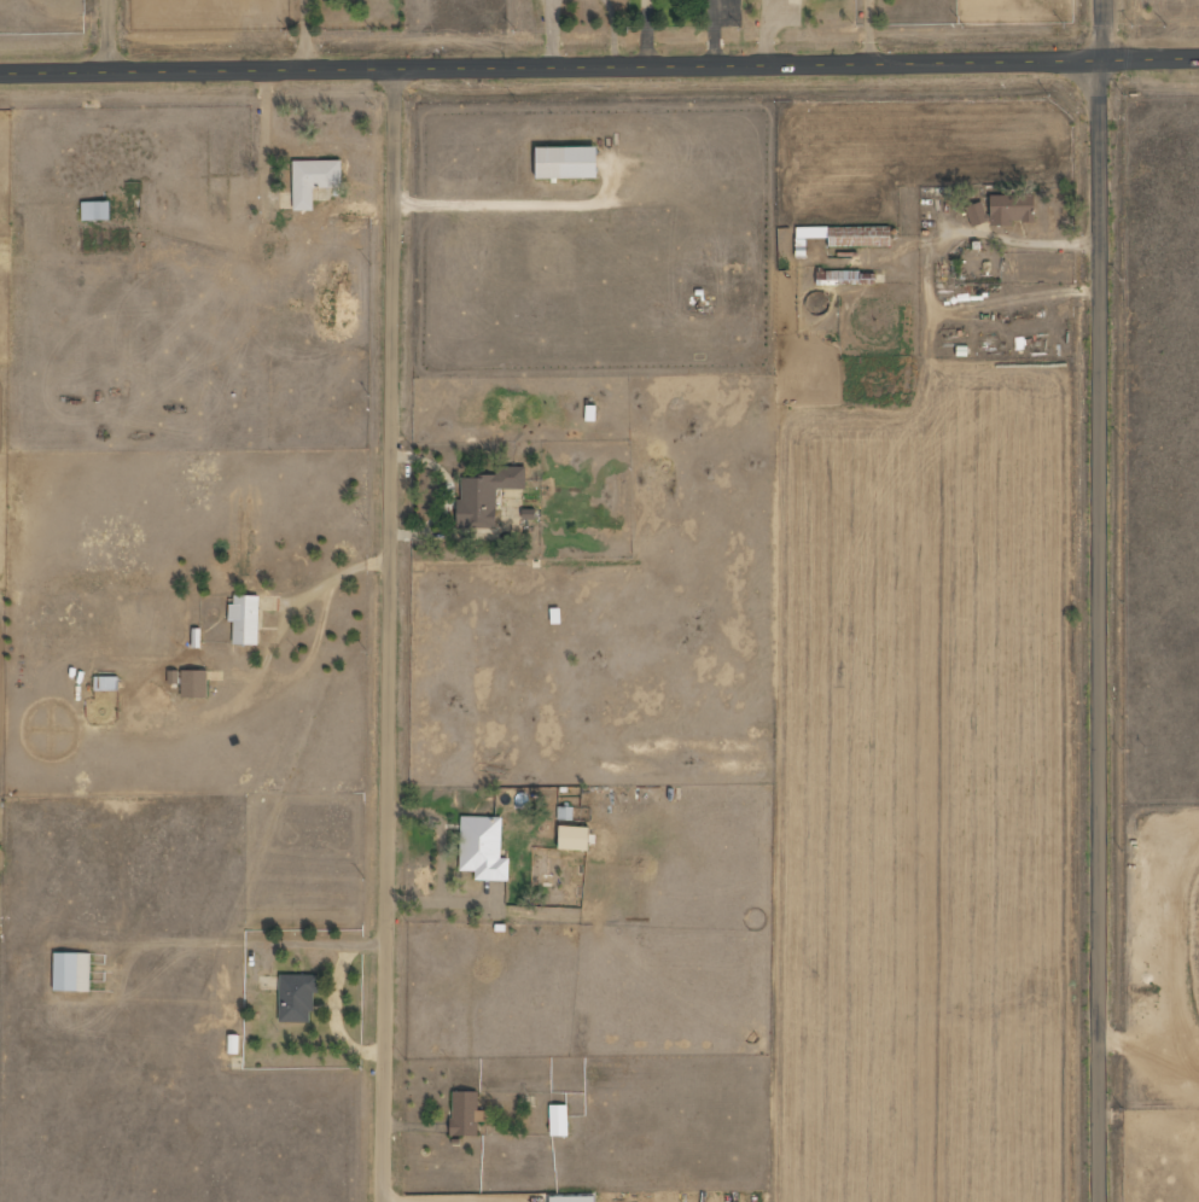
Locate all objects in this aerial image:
road: (110, 33)
road: (599, 62)
building: (570, 163)
building: (315, 180)
building: (1013, 209)
building: (97, 210)
building: (976, 215)
building: (850, 235)
building: (488, 496)
road: (1102, 600)
building: (246, 619)
road: (392, 632)
building: (174, 677)
building: (106, 683)
building: (196, 683)
building: (576, 838)
building: (484, 848)
building: (72, 971)
building: (297, 998)
building: (466, 1114)
building: (559, 1120)
building: (575, 1198)

